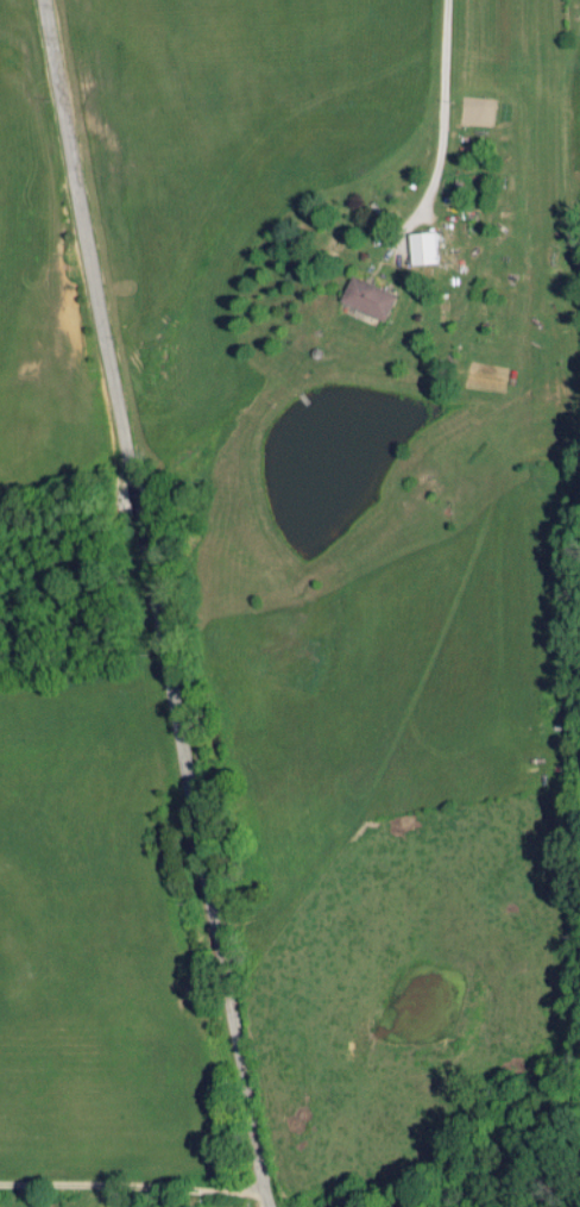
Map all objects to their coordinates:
building: (428, 246)
building: (374, 296)
road: (157, 602)

